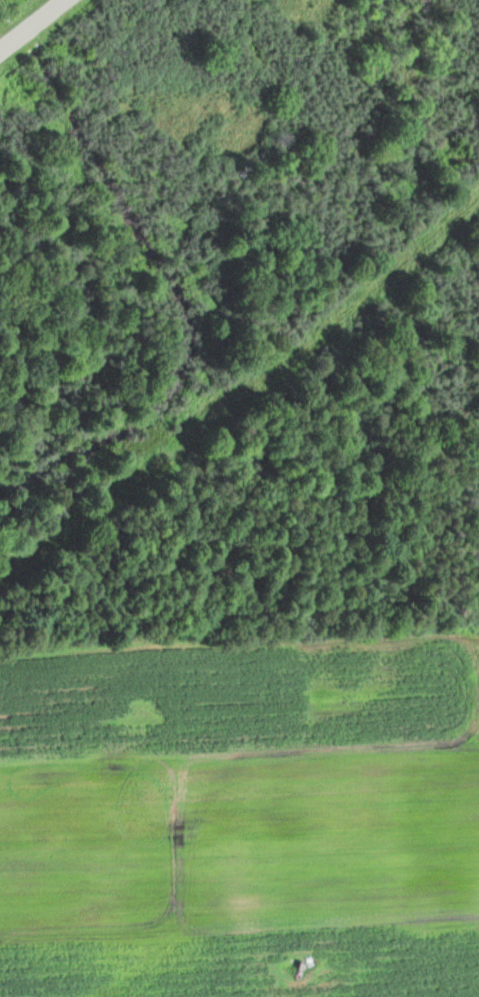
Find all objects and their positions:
road: (23, 18)

